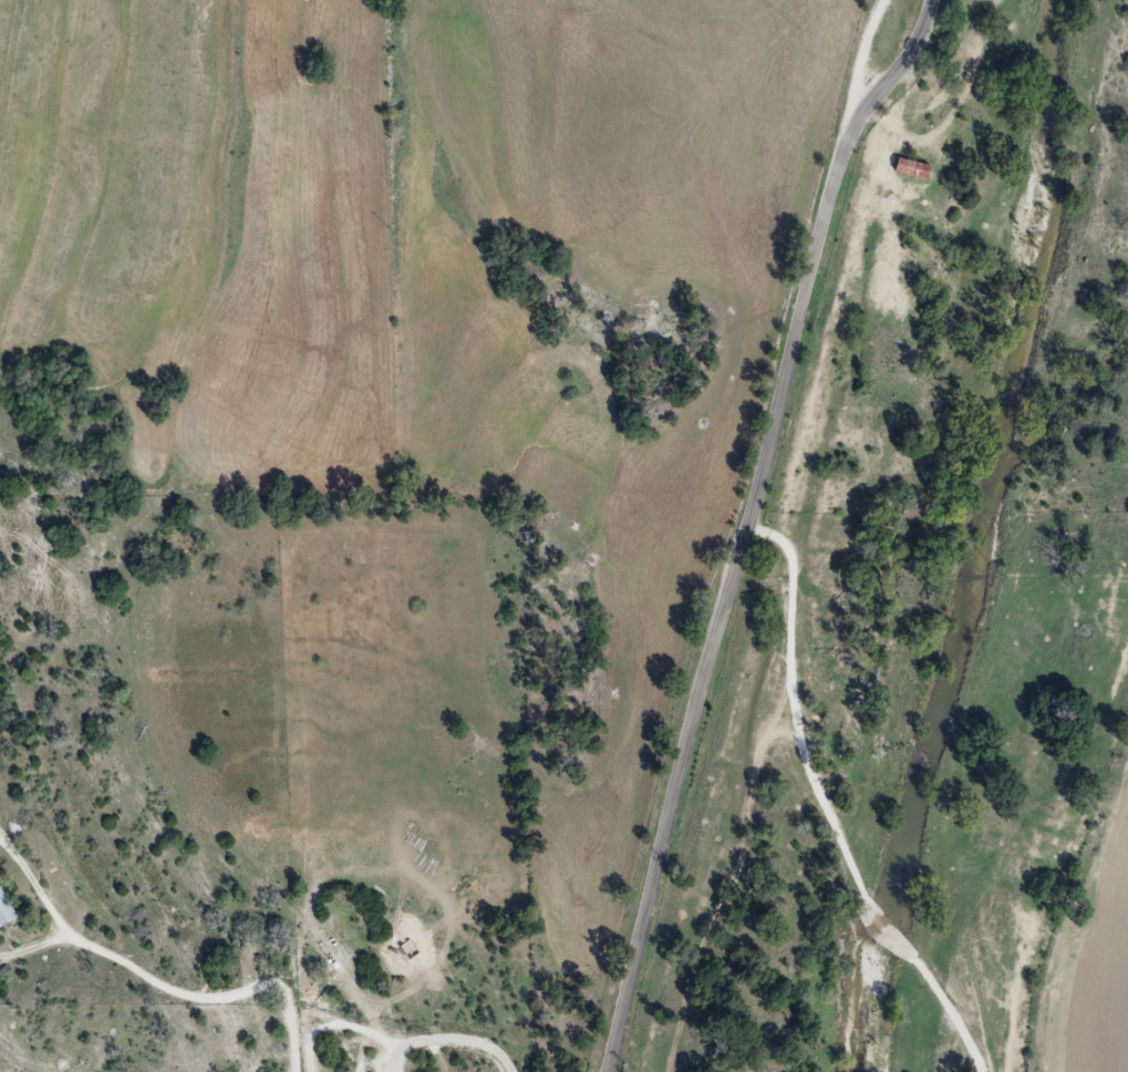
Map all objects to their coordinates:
building: (920, 167)
road: (747, 525)
railway: (431, 536)
road: (794, 709)
building: (8, 908)
road: (890, 931)
road: (158, 980)
road: (953, 1011)
road: (451, 1038)

